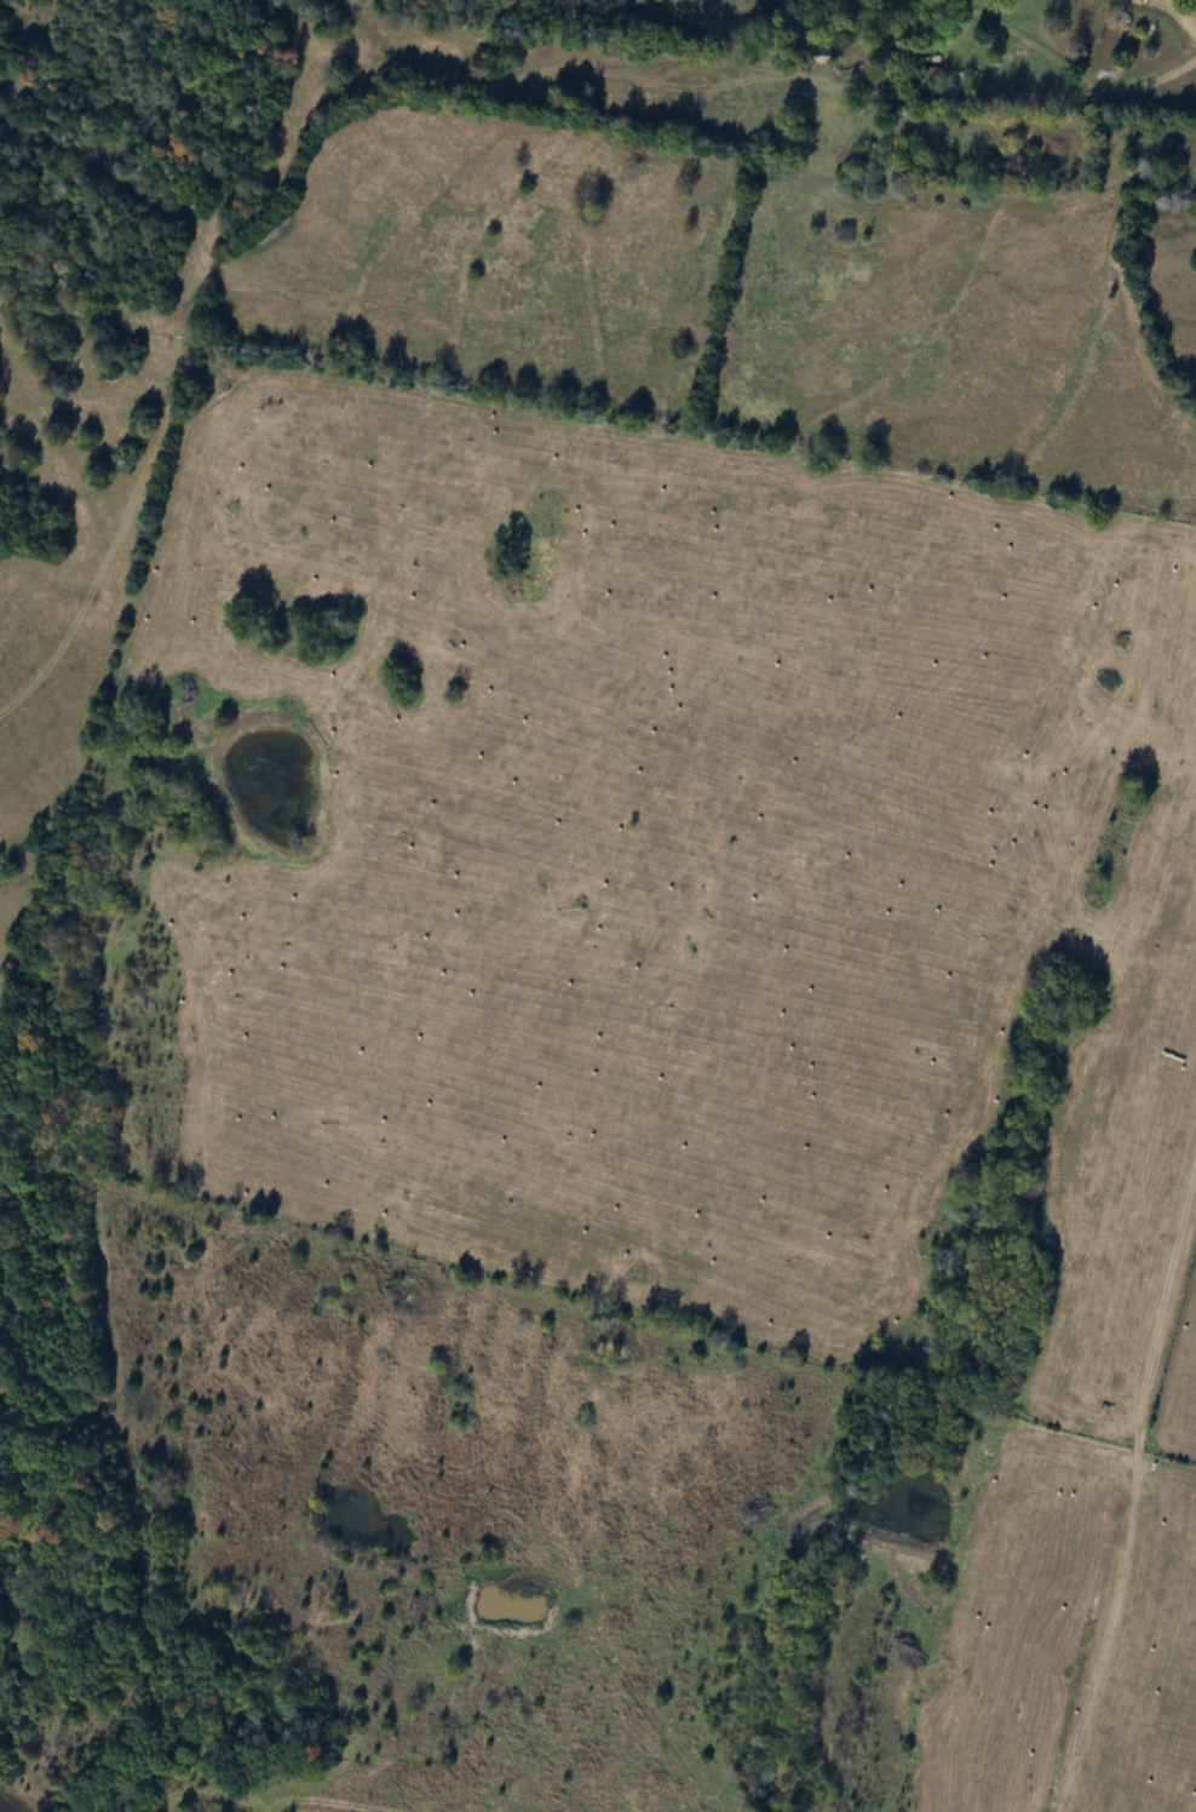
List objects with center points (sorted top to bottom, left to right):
road: (1066, 92)

